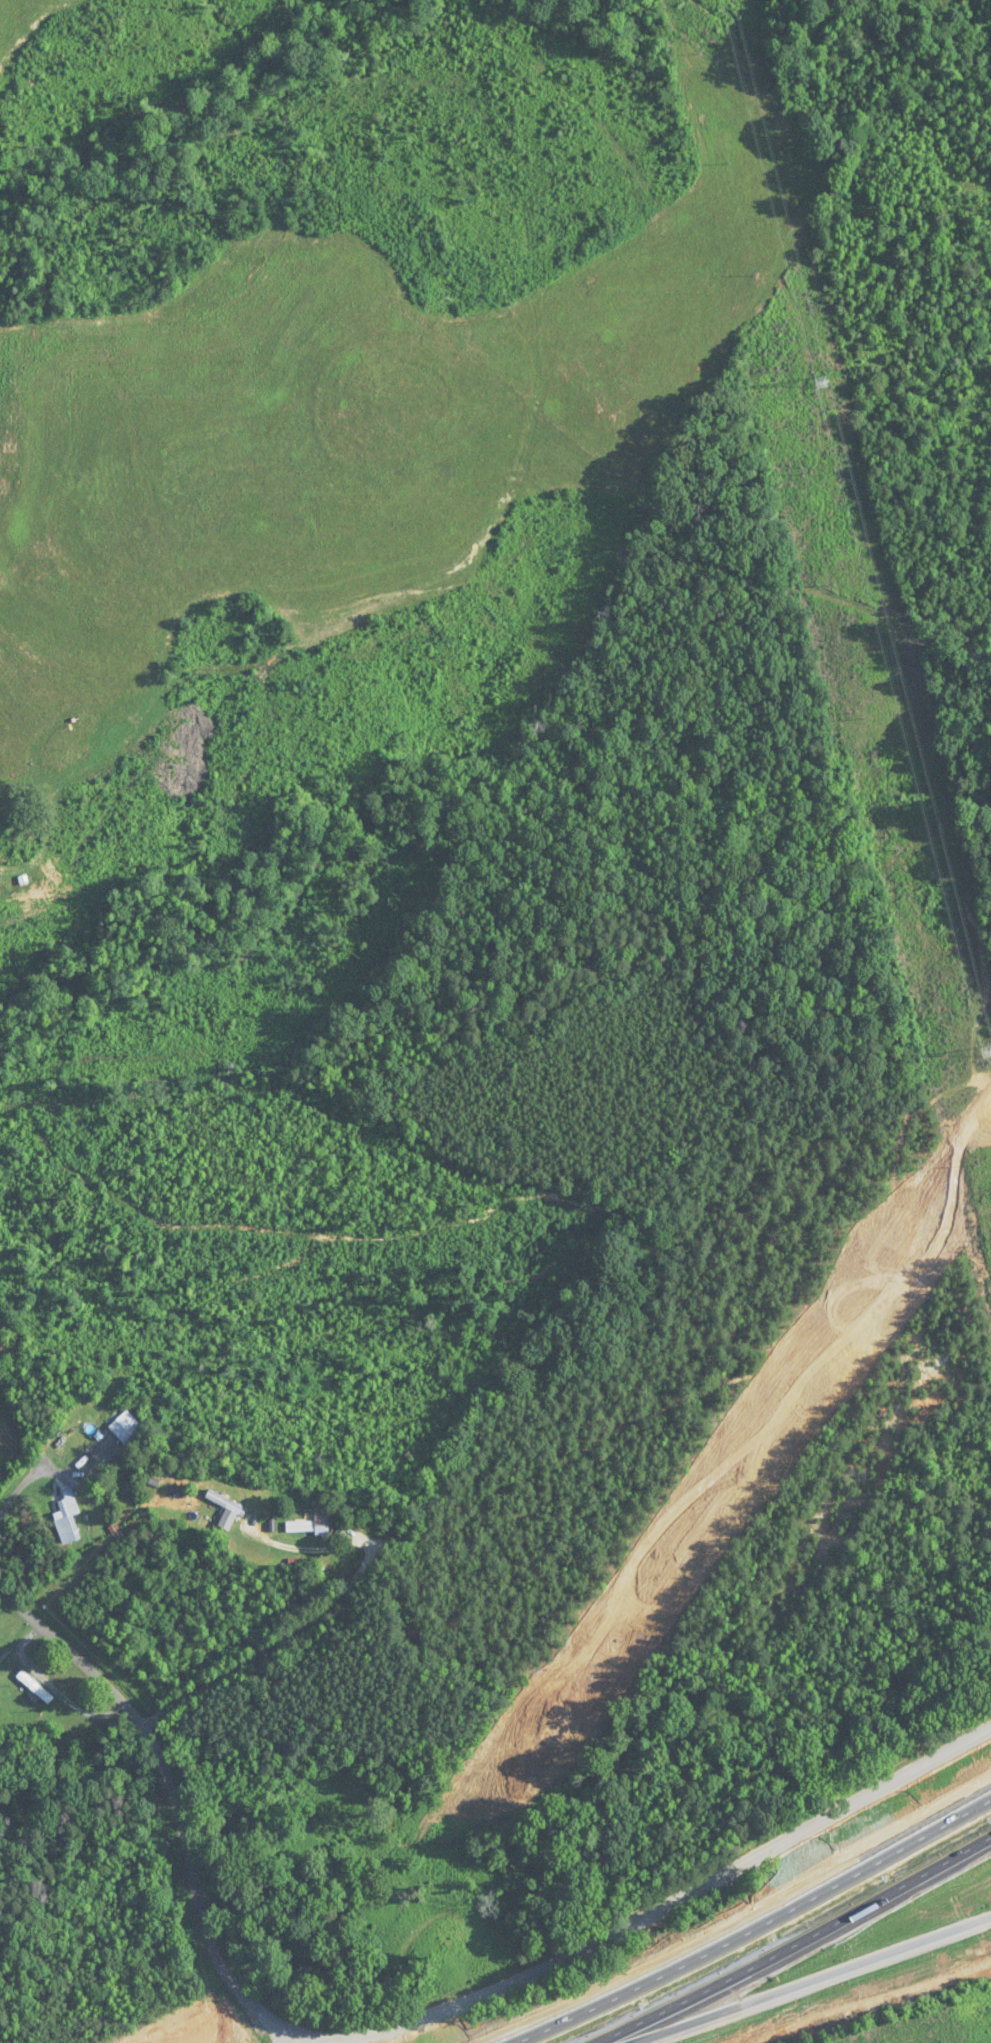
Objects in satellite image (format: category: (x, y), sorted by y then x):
power tower: (818, 383)
power tower: (986, 1051)
building: (126, 1429)
road: (30, 1477)
building: (225, 1503)
building: (68, 1519)
building: (310, 1525)
road: (629, 1624)
road: (287, 1639)
building: (34, 1688)
road: (168, 1777)
road: (747, 1928)
road: (798, 1948)
road: (811, 1979)

